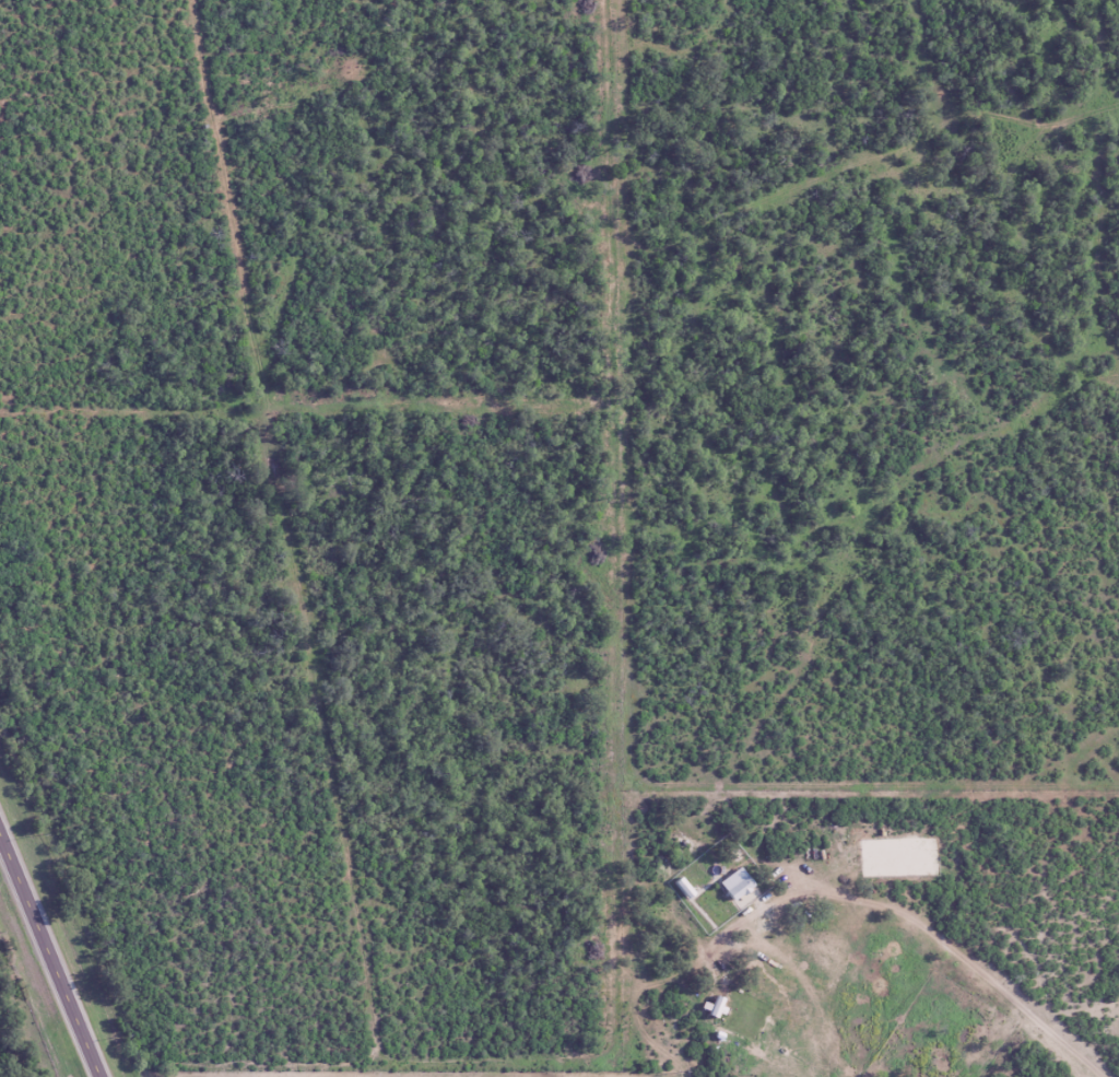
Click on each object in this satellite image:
building: (737, 890)
road: (949, 944)
building: (778, 947)
road: (51, 950)

